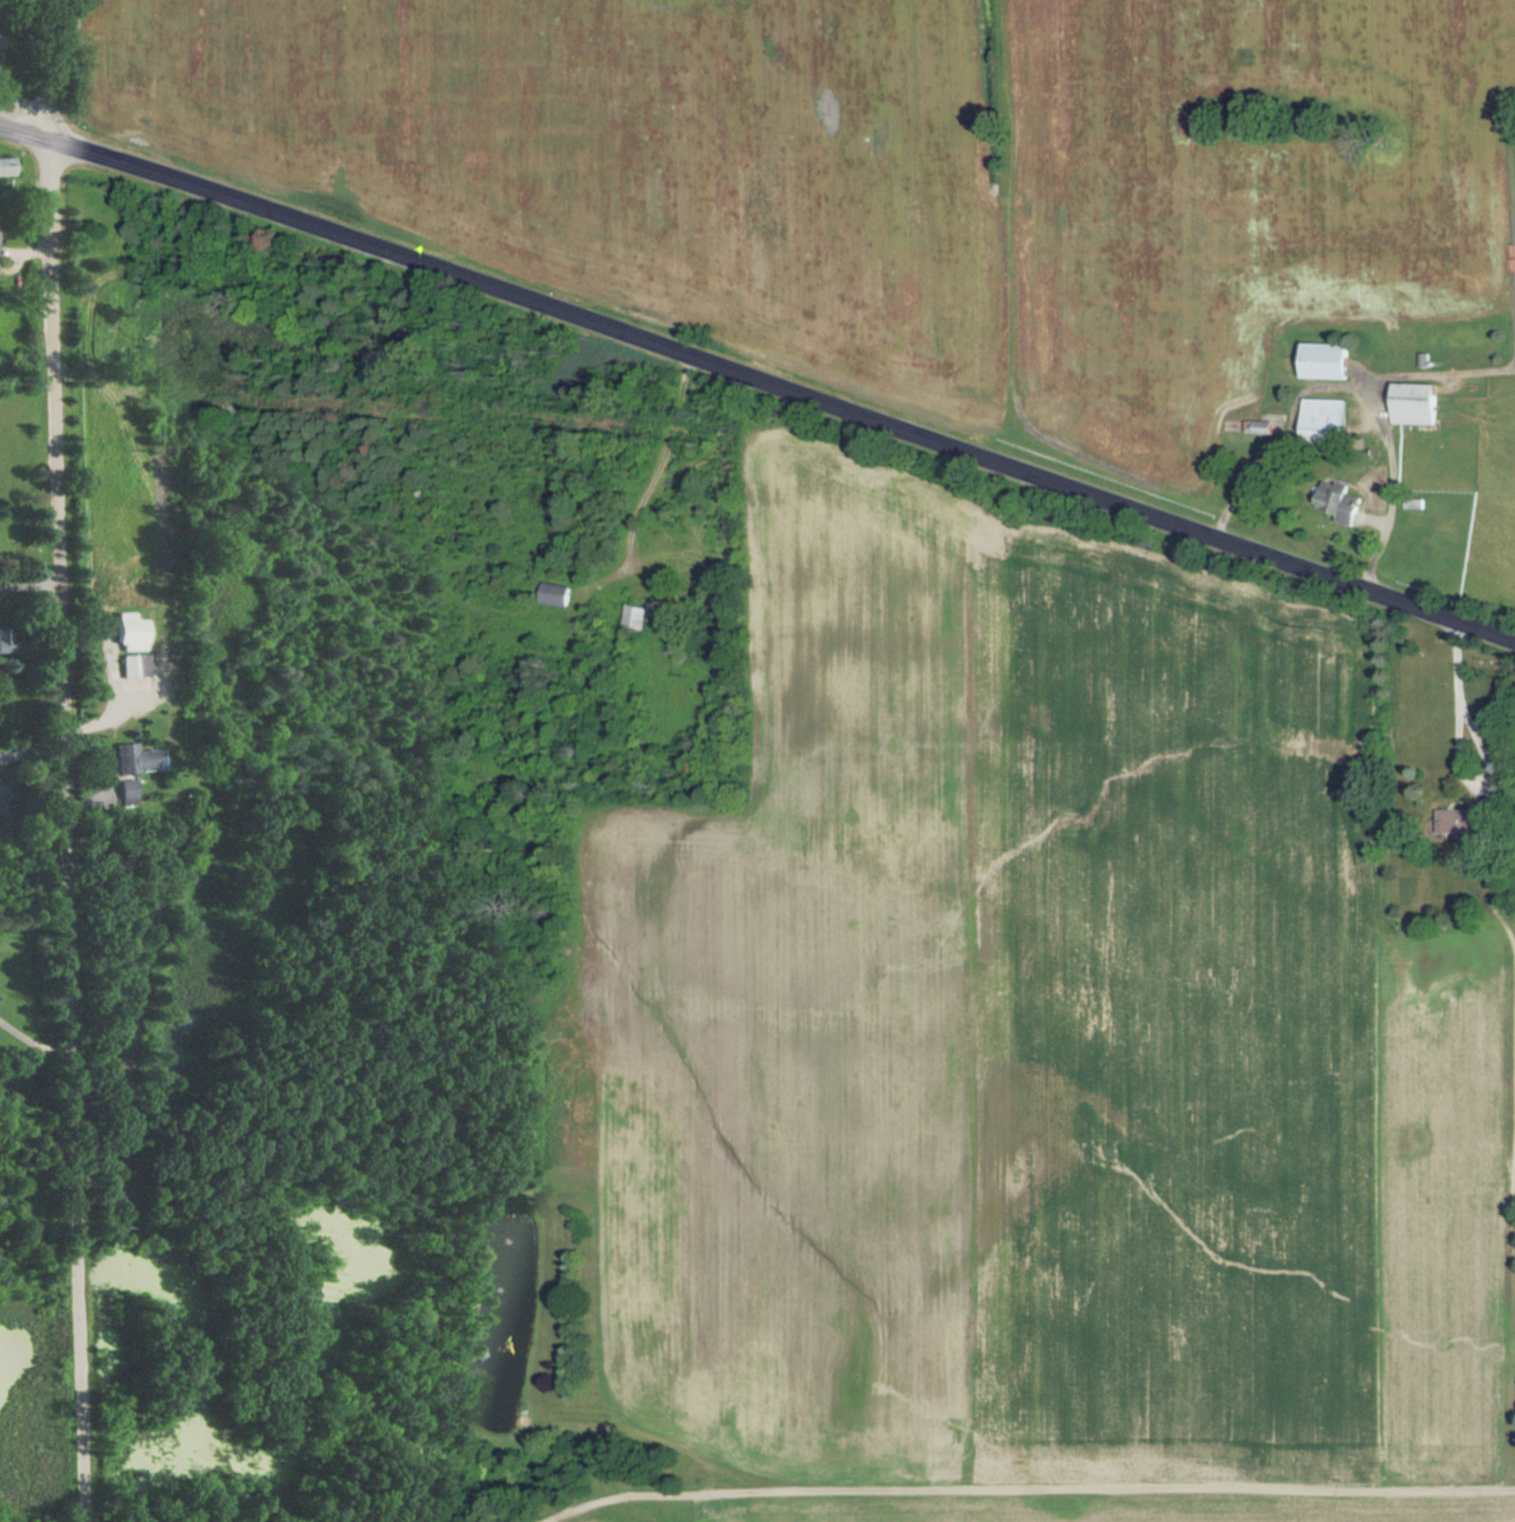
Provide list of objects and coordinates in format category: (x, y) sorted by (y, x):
building: (1, 36)
road: (26, 133)
building: (7, 166)
building: (1325, 360)
road: (1349, 387)
road: (784, 388)
building: (1415, 403)
building: (1323, 421)
building: (1259, 427)
building: (1341, 501)
building: (1416, 503)
road: (31, 579)
building: (556, 594)
building: (636, 617)
building: (132, 632)
building: (6, 639)
building: (137, 666)
road: (120, 709)
road: (1481, 747)
road: (34, 748)
building: (137, 757)
road: (68, 760)
building: (1467, 821)
road: (36, 1041)
road: (1027, 1491)

